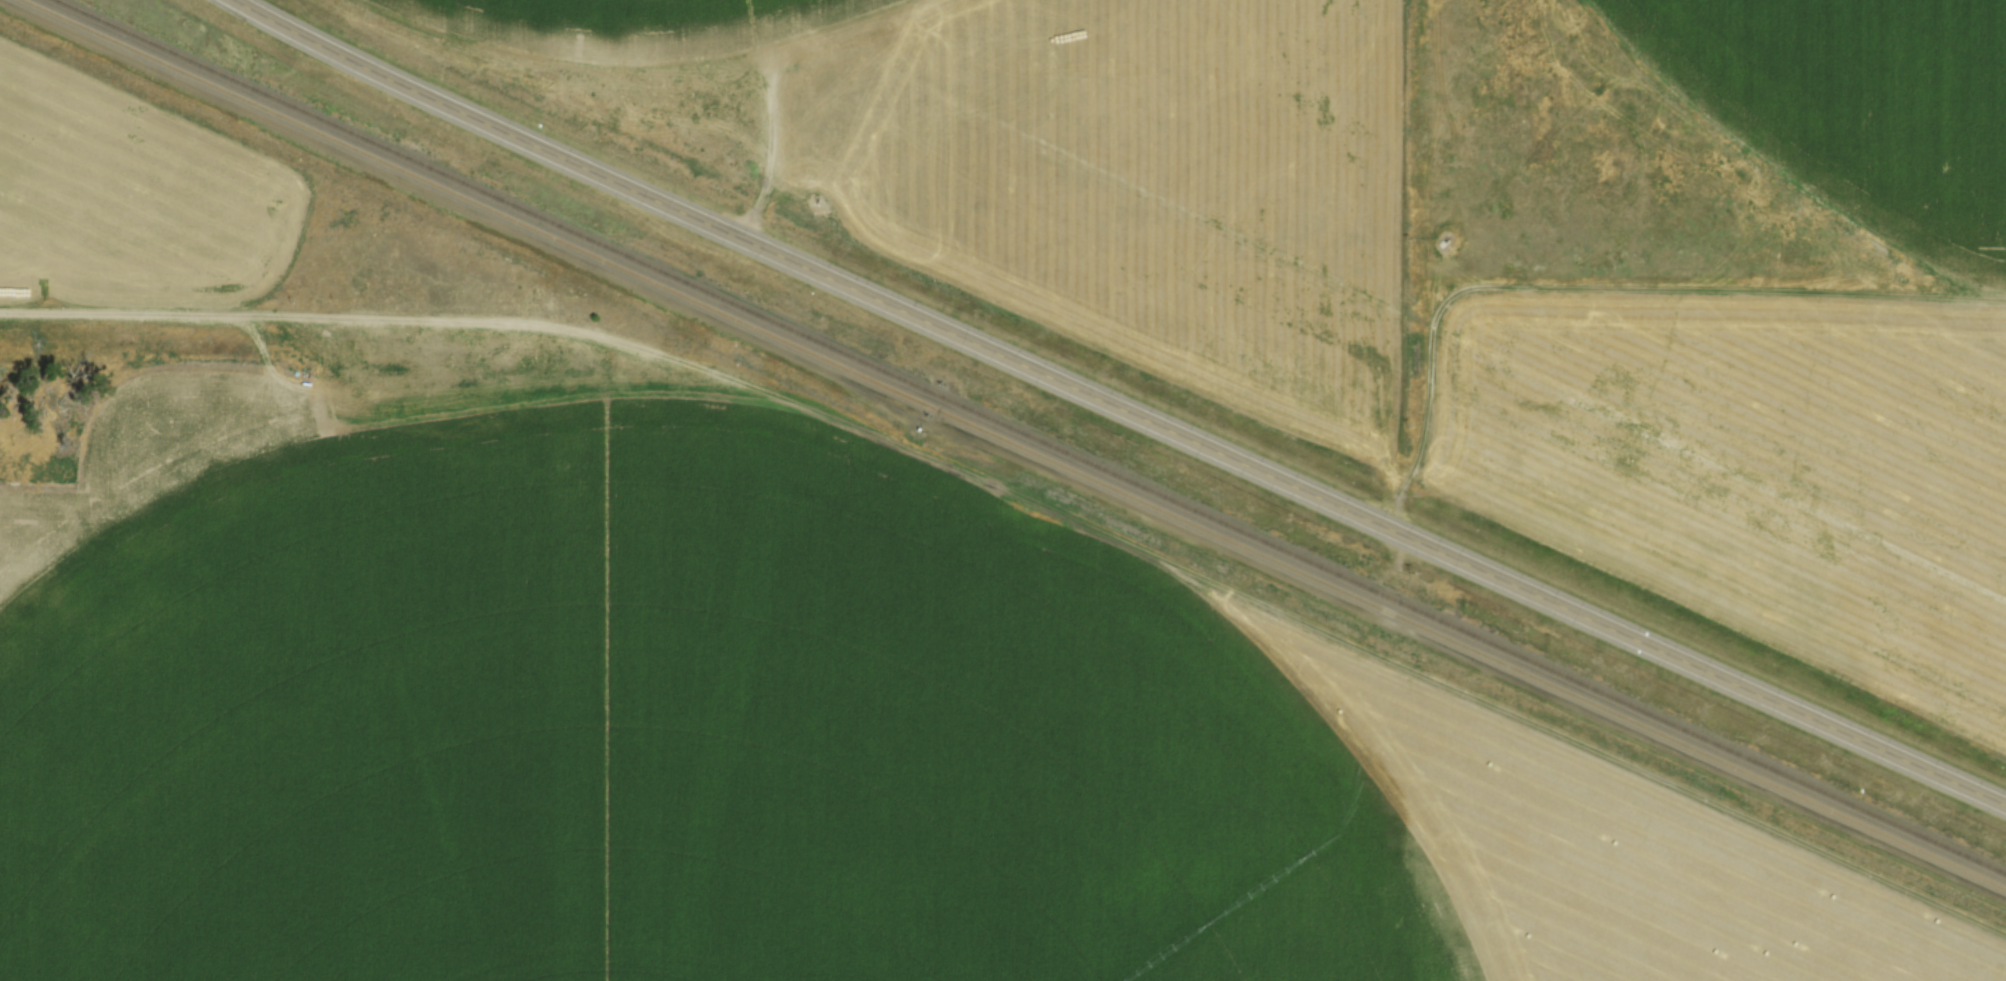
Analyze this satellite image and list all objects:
road: (279, 315)
road: (1116, 402)
railway: (1031, 434)
railway: (1015, 441)

